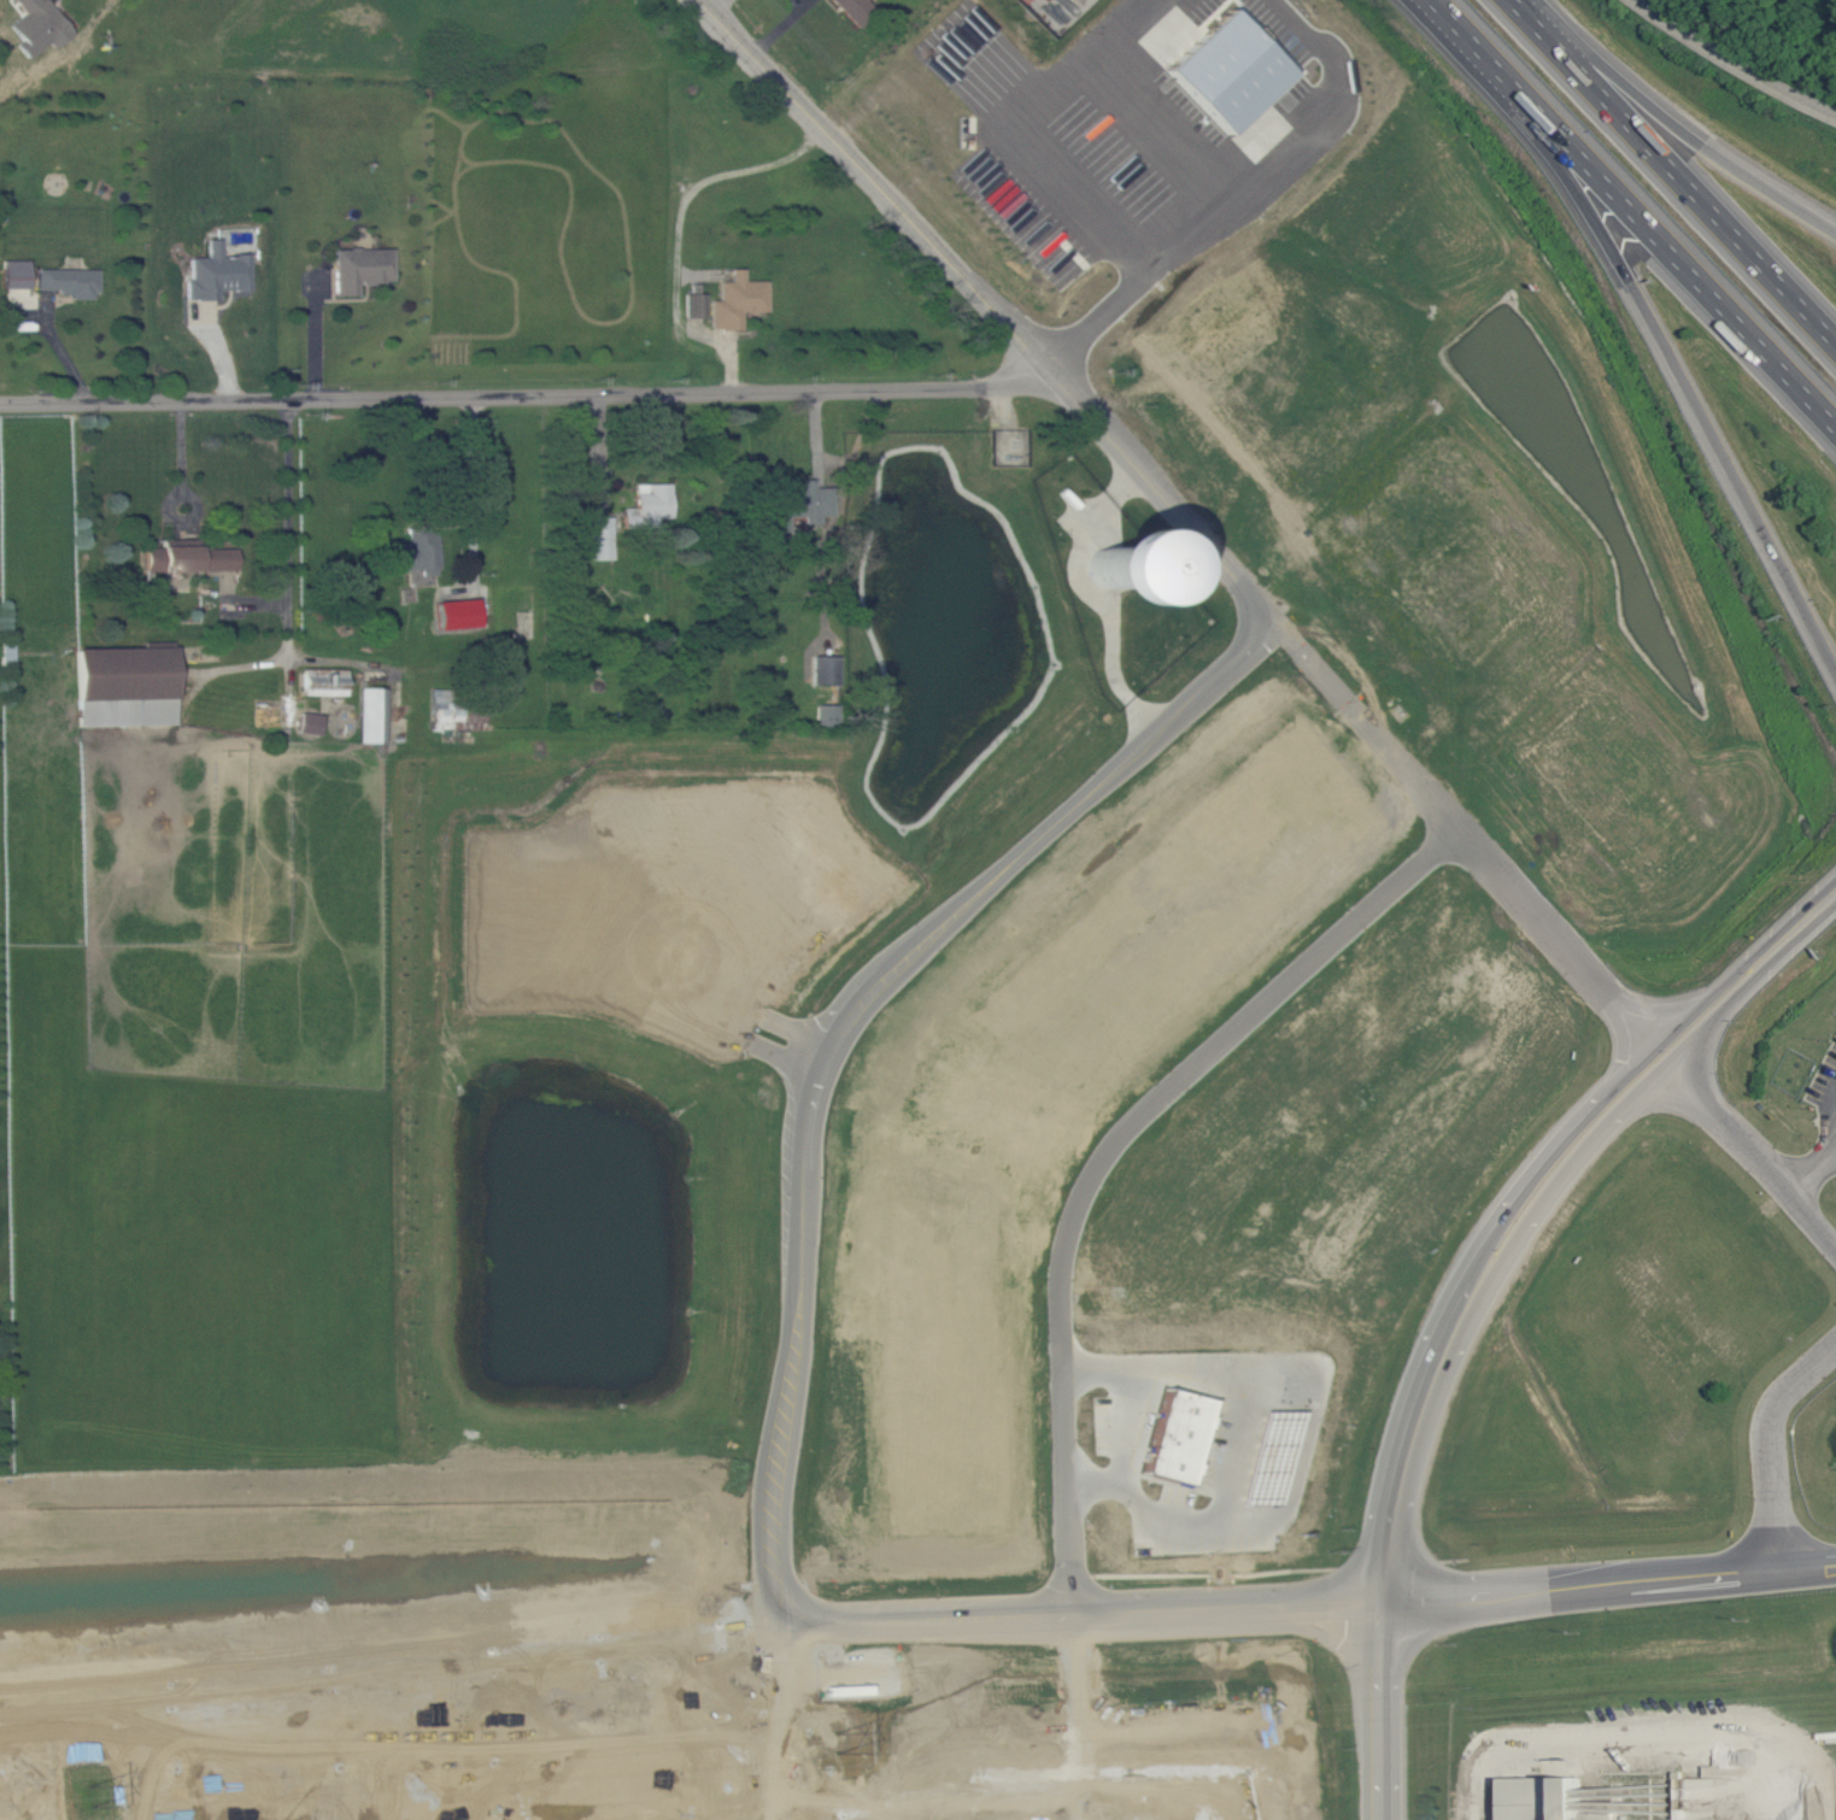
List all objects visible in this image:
building: (855, 6)
building: (37, 27)
building: (1244, 63)
road: (1730, 65)
road: (1160, 124)
road: (1679, 129)
road: (1027, 133)
road: (1291, 147)
road: (1676, 170)
road: (1631, 217)
road: (1599, 227)
building: (360, 266)
building: (216, 271)
building: (17, 272)
building: (69, 281)
building: (738, 299)
building: (696, 303)
road: (993, 309)
road: (1096, 315)
road: (315, 336)
road: (532, 397)
road: (473, 471)
road: (1747, 501)
building: (802, 503)
building: (650, 504)
road: (287, 523)
building: (602, 536)
building: (416, 550)
building: (190, 556)
building: (1134, 556)
water tower: (1110, 568)
building: (458, 611)
building: (826, 668)
building: (324, 681)
building: (127, 685)
building: (452, 711)
building: (373, 714)
road: (1373, 721)
building: (310, 722)
building: (1262, 815)
road: (1825, 914)
road: (1825, 920)
road: (1561, 938)
parking lot: (1826, 1086)
road: (1114, 1149)
road: (1775, 1170)
road: (1814, 1176)
road: (1529, 1221)
road: (808, 1275)
road: (1128, 1423)
building: (1178, 1434)
road: (1772, 1449)
road: (1808, 1571)
road: (1713, 1578)
road: (1568, 1589)
road: (1436, 1598)
road: (1336, 1604)
power tower: (1474, 1696)
road: (1377, 1710)
road: (1648, 1736)
power tower: (837, 1743)
power tower: (89, 1793)
building: (1547, 1798)

